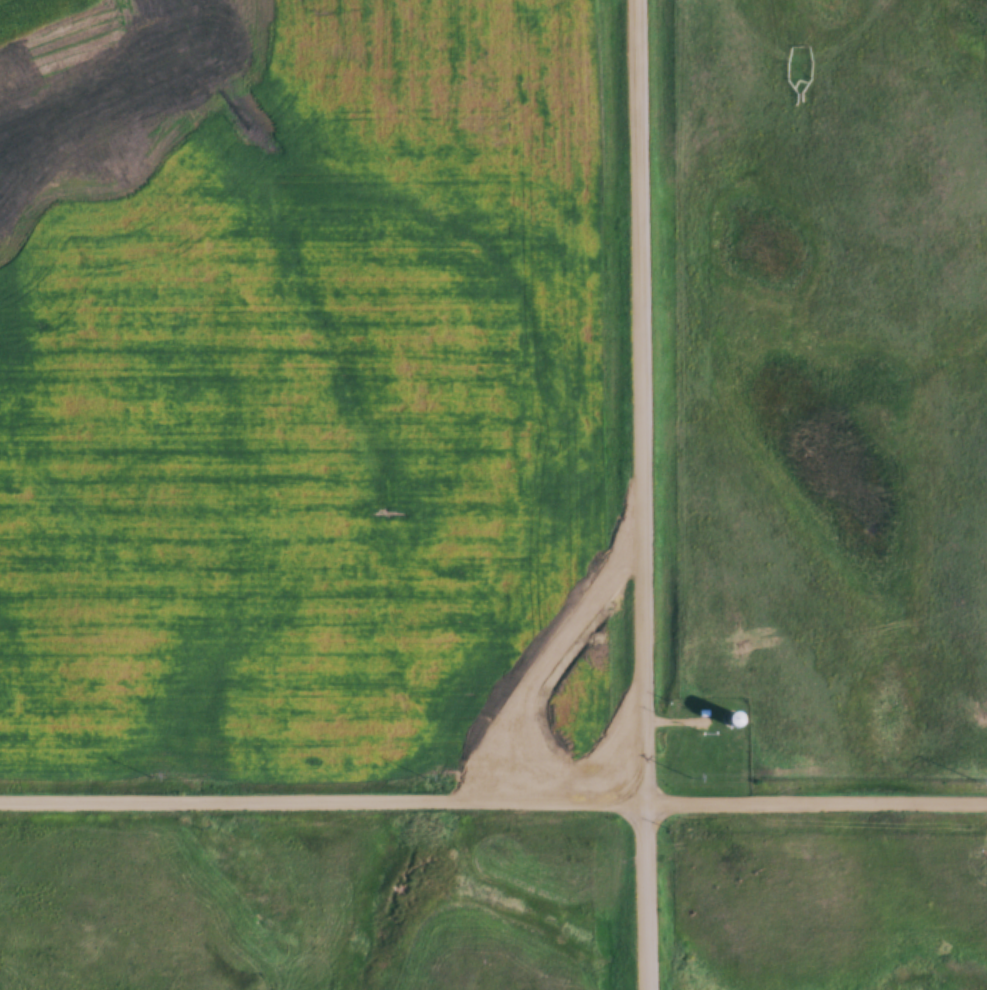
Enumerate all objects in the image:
road: (642, 495)
road: (493, 798)

